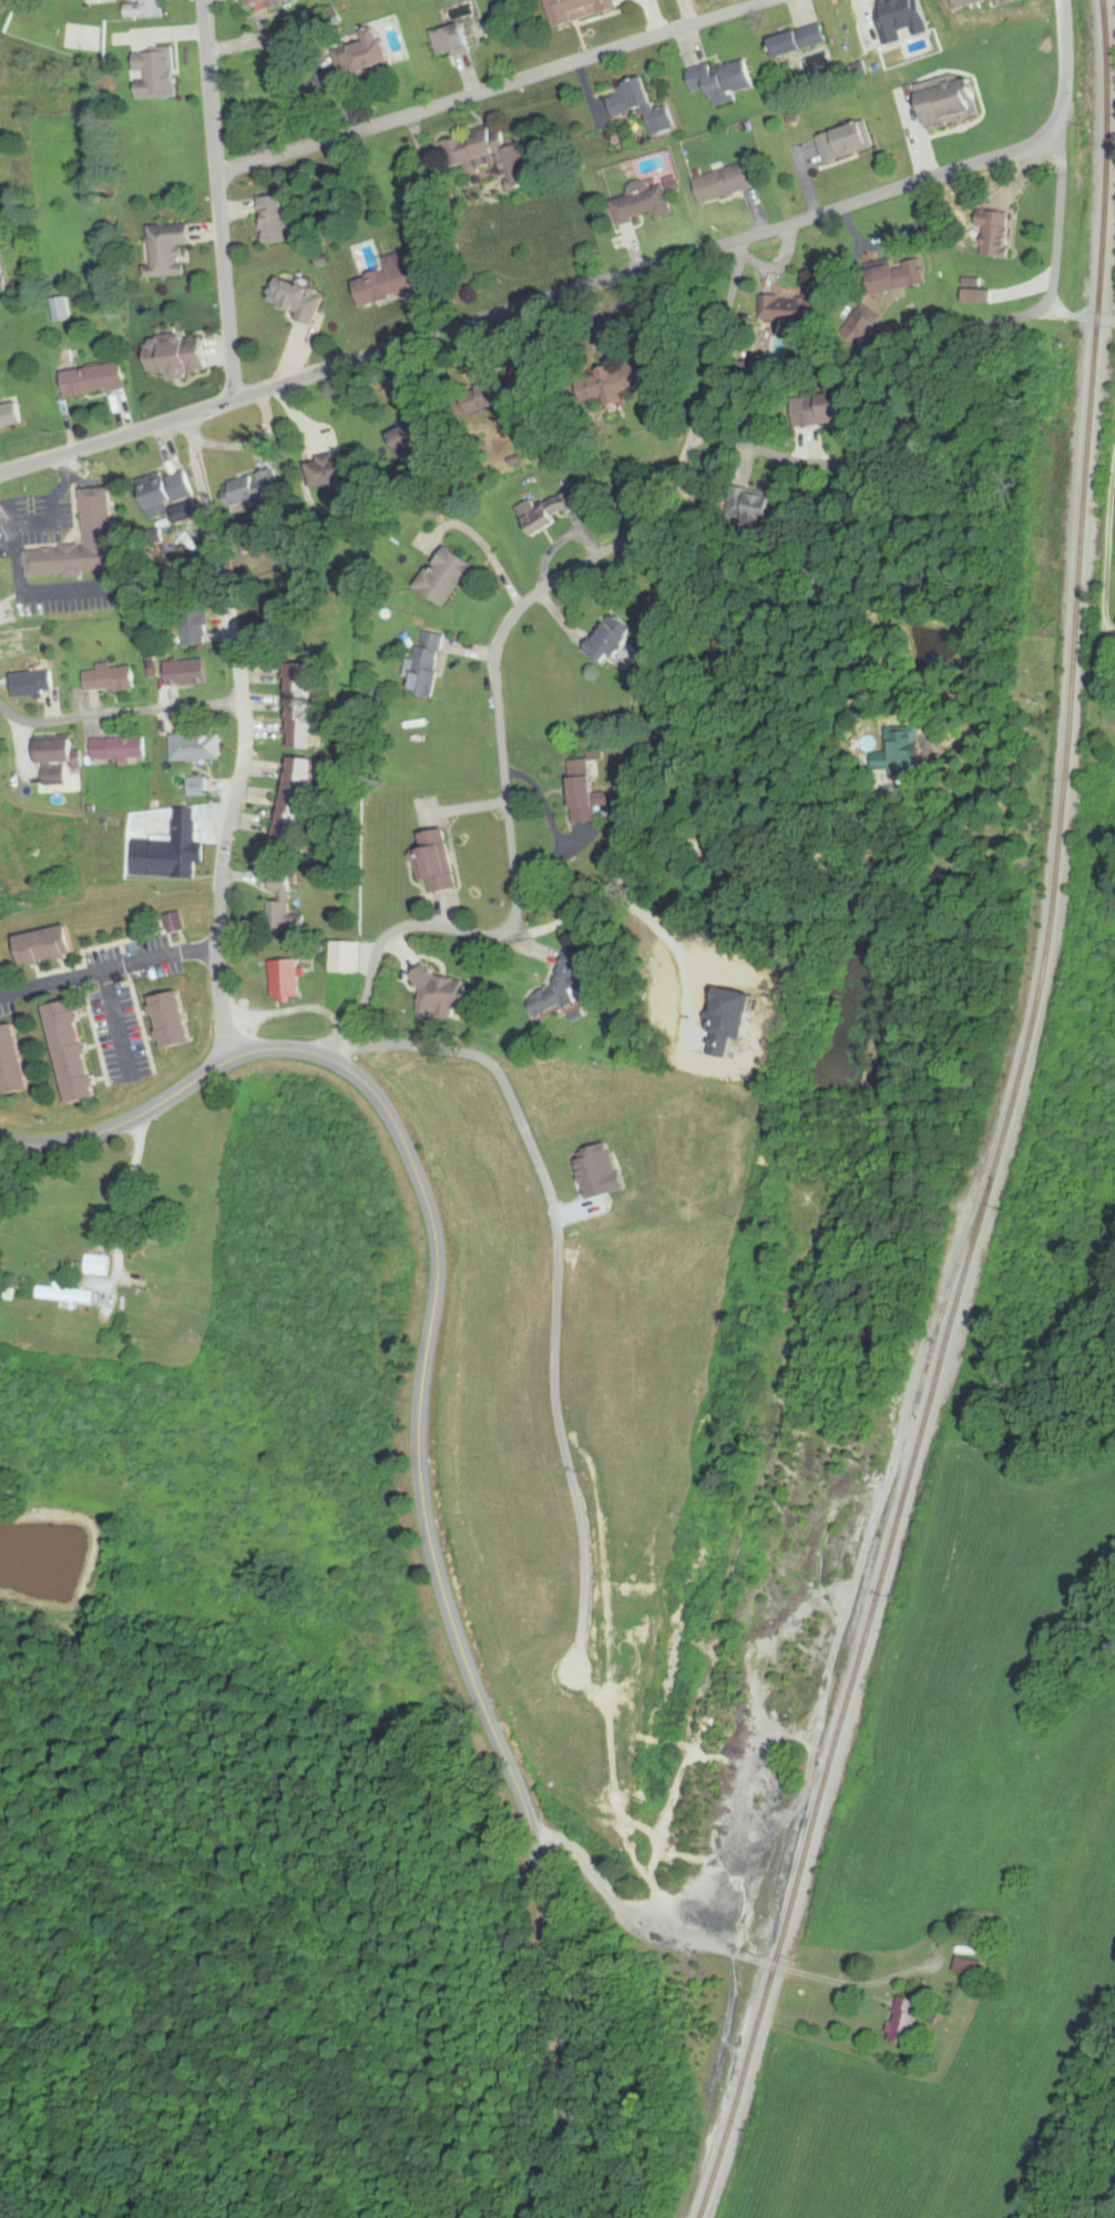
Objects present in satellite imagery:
building: (266, 3)
building: (976, 3)
building: (146, 9)
building: (576, 11)
building: (454, 40)
building: (800, 42)
building: (371, 52)
road: (1063, 65)
building: (723, 81)
road: (493, 91)
building: (633, 99)
building: (952, 101)
road: (917, 135)
building: (847, 143)
building: (487, 144)
building: (726, 183)
road: (219, 201)
building: (644, 204)
road: (1058, 217)
building: (269, 221)
building: (998, 236)
building: (170, 251)
building: (2, 279)
building: (387, 282)
building: (295, 299)
road: (528, 307)
building: (60, 309)
road: (1029, 316)
road: (1078, 319)
road: (1058, 338)
building: (178, 357)
building: (95, 380)
building: (838, 409)
building: (11, 417)
road: (188, 430)
building: (406, 436)
road: (878, 451)
building: (329, 471)
building: (167, 488)
building: (252, 488)
building: (553, 511)
building: (98, 517)
road: (1106, 560)
road: (587, 563)
building: (448, 576)
building: (195, 629)
building: (608, 642)
building: (430, 663)
building: (190, 672)
building: (113, 678)
building: (35, 682)
building: (304, 704)
road: (117, 714)
building: (197, 746)
building: (120, 747)
road: (242, 752)
building: (60, 763)
building: (198, 786)
building: (297, 800)
building: (586, 800)
building: (171, 851)
building: (434, 864)
building: (280, 906)
road: (397, 933)
building: (49, 946)
road: (109, 974)
building: (287, 980)
building: (556, 999)
road: (287, 1010)
building: (172, 1020)
building: (73, 1052)
building: (11, 1062)
railway: (990, 1126)
road: (14, 1147)
road: (125, 1210)
building: (100, 1265)
building: (162, 1266)
building: (68, 1295)
road: (420, 1458)
road: (718, 1944)
building: (904, 2019)

